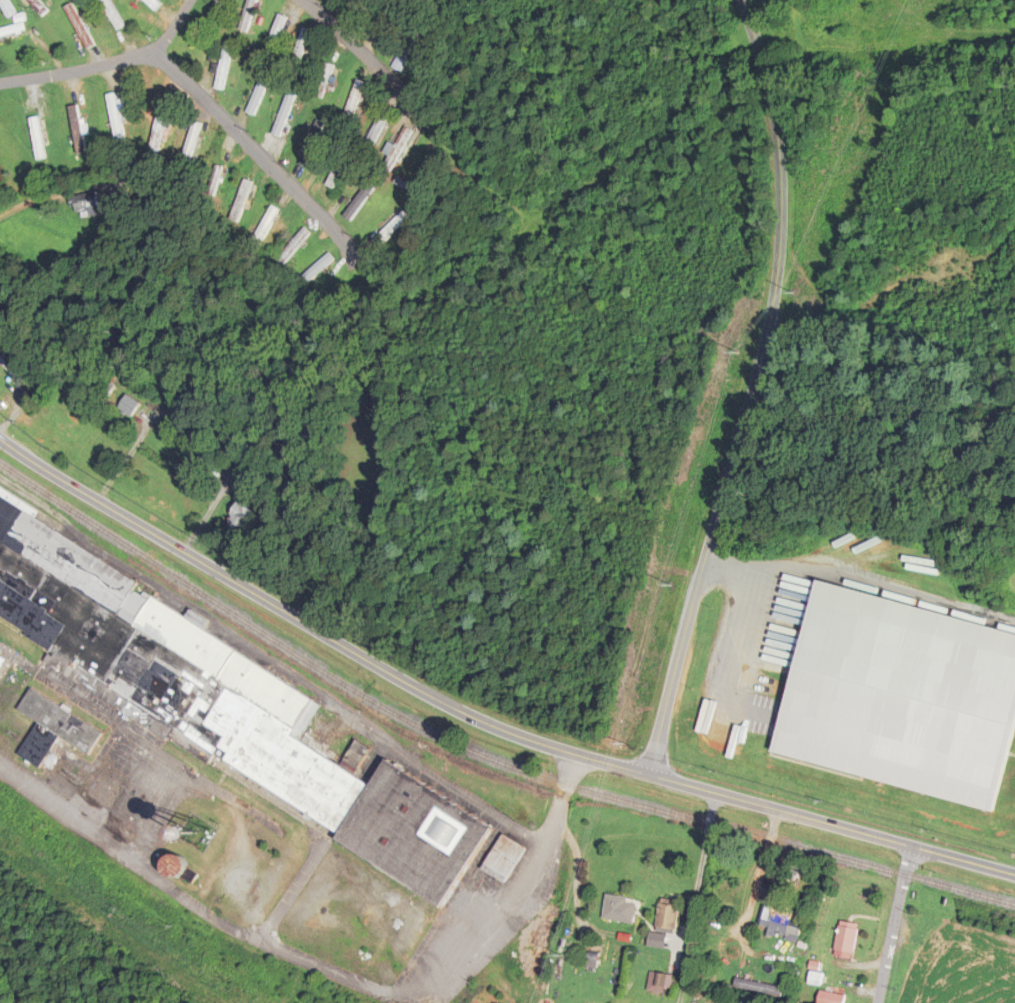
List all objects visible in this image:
building: (817, 0)
building: (153, 2)
building: (37, 7)
building: (6, 9)
building: (216, 9)
building: (361, 9)
building: (111, 14)
building: (247, 15)
building: (79, 28)
building: (14, 29)
building: (274, 36)
building: (406, 45)
road: (354, 52)
building: (209, 53)
building: (298, 53)
road: (108, 65)
building: (224, 66)
building: (259, 93)
building: (353, 103)
building: (284, 114)
building: (115, 118)
building: (378, 128)
building: (158, 130)
building: (77, 131)
building: (37, 139)
building: (311, 145)
building: (189, 148)
road: (253, 151)
building: (396, 151)
building: (338, 169)
building: (240, 202)
building: (358, 204)
building: (86, 206)
building: (264, 228)
building: (390, 230)
building: (316, 271)
building: (104, 388)
road: (750, 388)
building: (128, 407)
building: (70, 417)
building: (239, 520)
railway: (84, 530)
building: (0, 664)
building: (901, 699)
building: (220, 705)
road: (481, 718)
building: (52, 732)
railway: (477, 752)
railway: (505, 774)
building: (505, 857)
road: (760, 873)
road: (694, 896)
building: (619, 909)
building: (667, 916)
building: (780, 925)
road: (894, 925)
building: (846, 941)
road: (326, 971)
building: (665, 978)
building: (814, 979)
building: (761, 988)
building: (830, 998)

